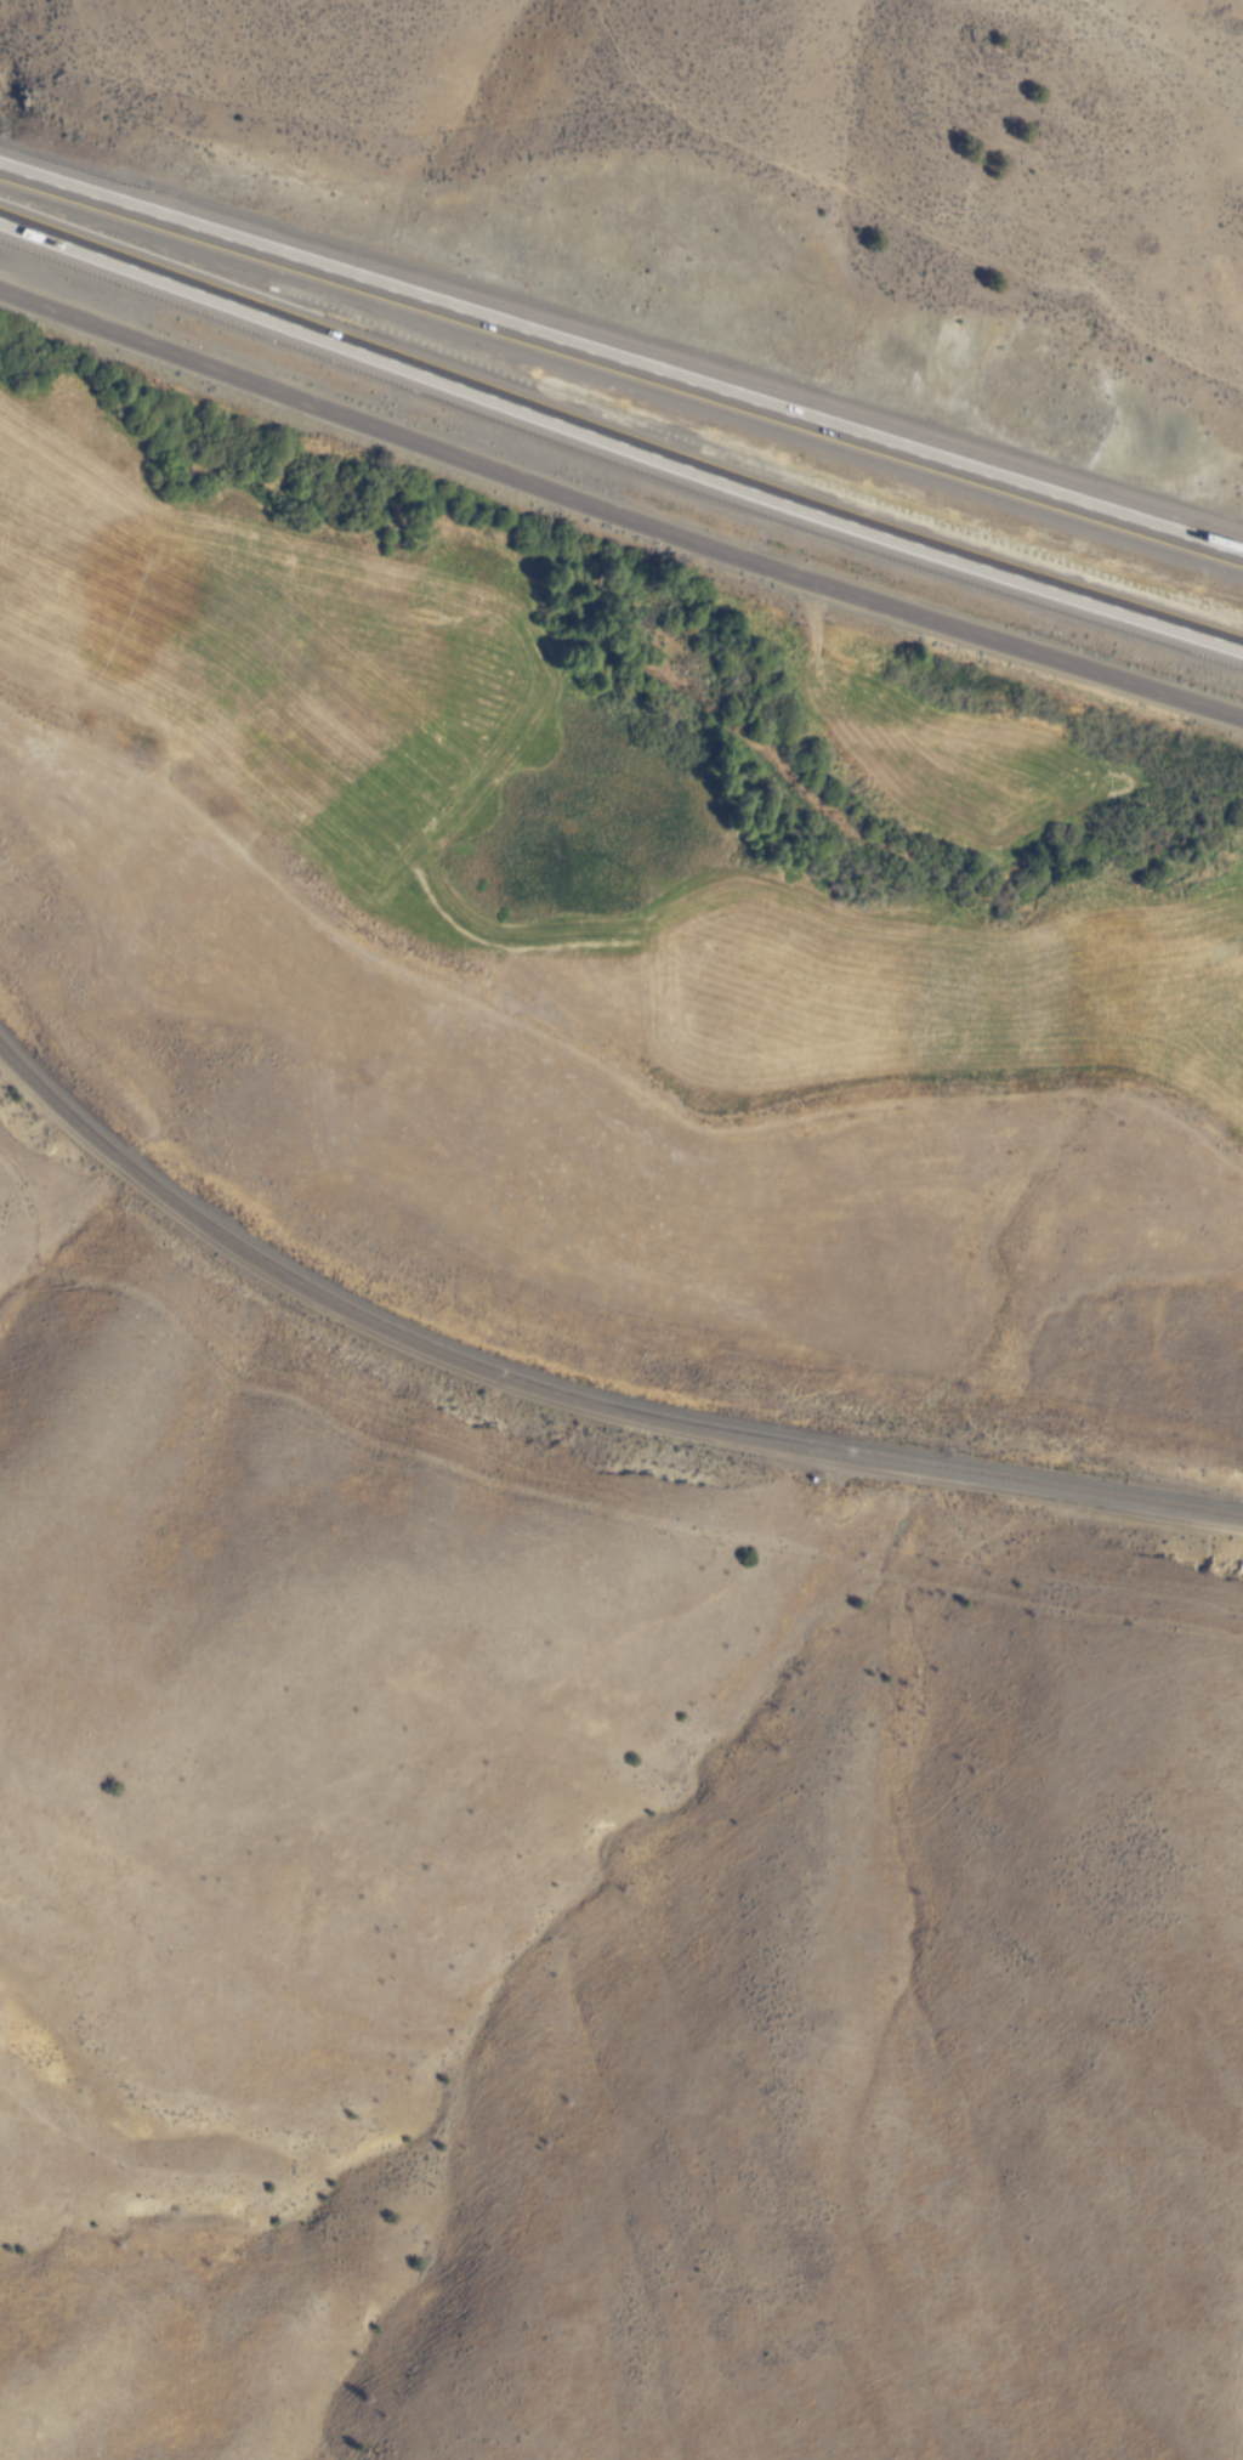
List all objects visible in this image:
road: (620, 358)
road: (620, 421)
road: (617, 515)
railway: (573, 1399)

